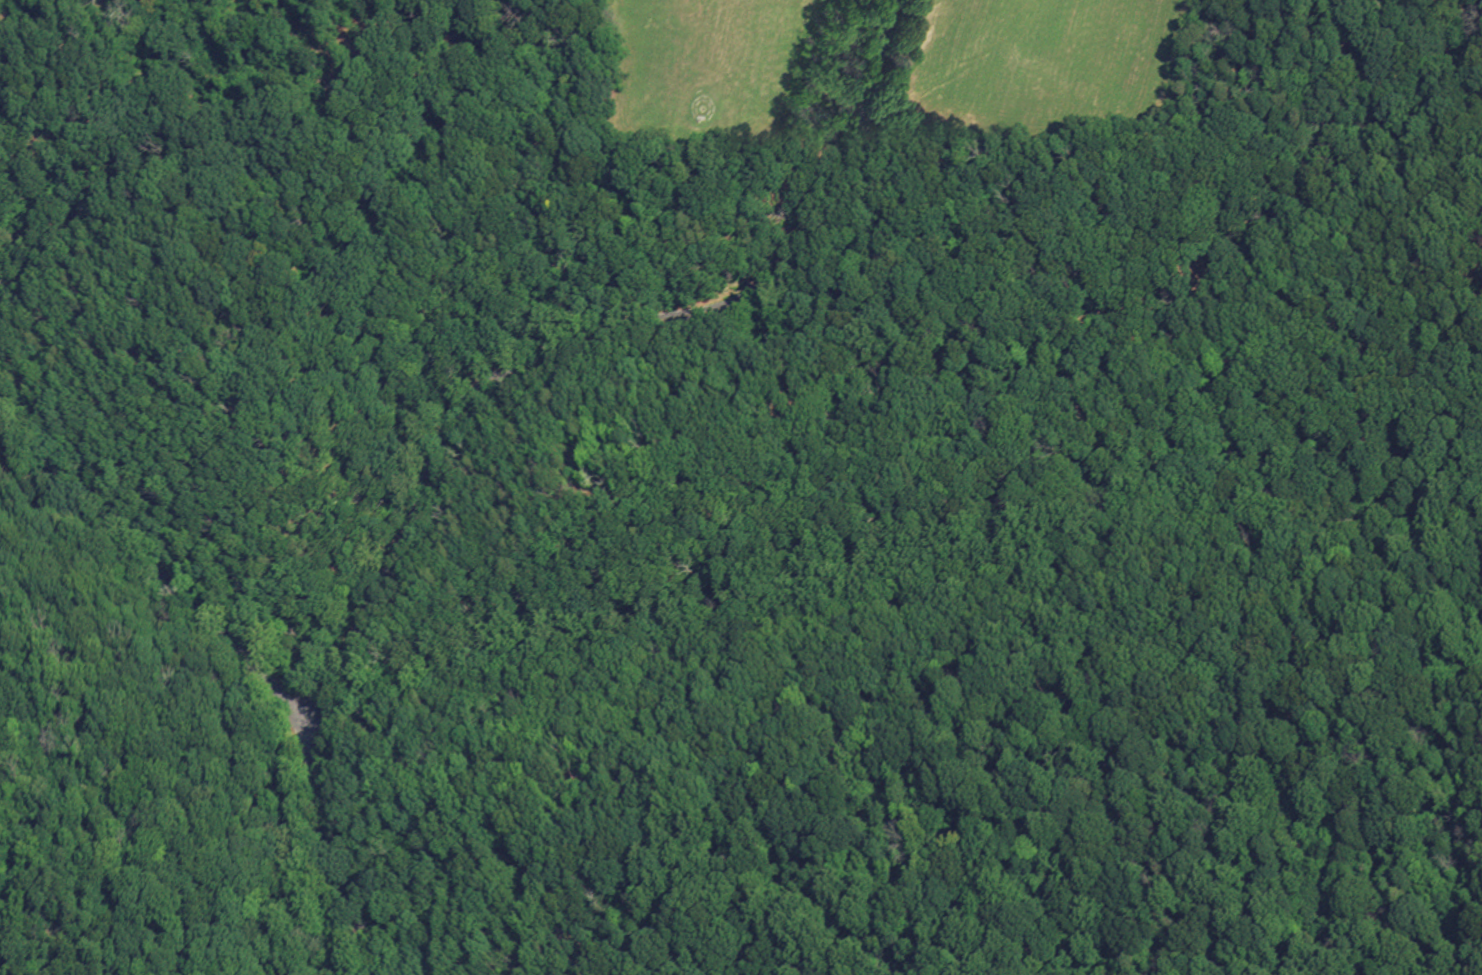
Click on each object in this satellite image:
building: (366, 67)
building: (322, 80)
building: (339, 111)
road: (587, 334)
road: (154, 567)
road: (322, 852)

